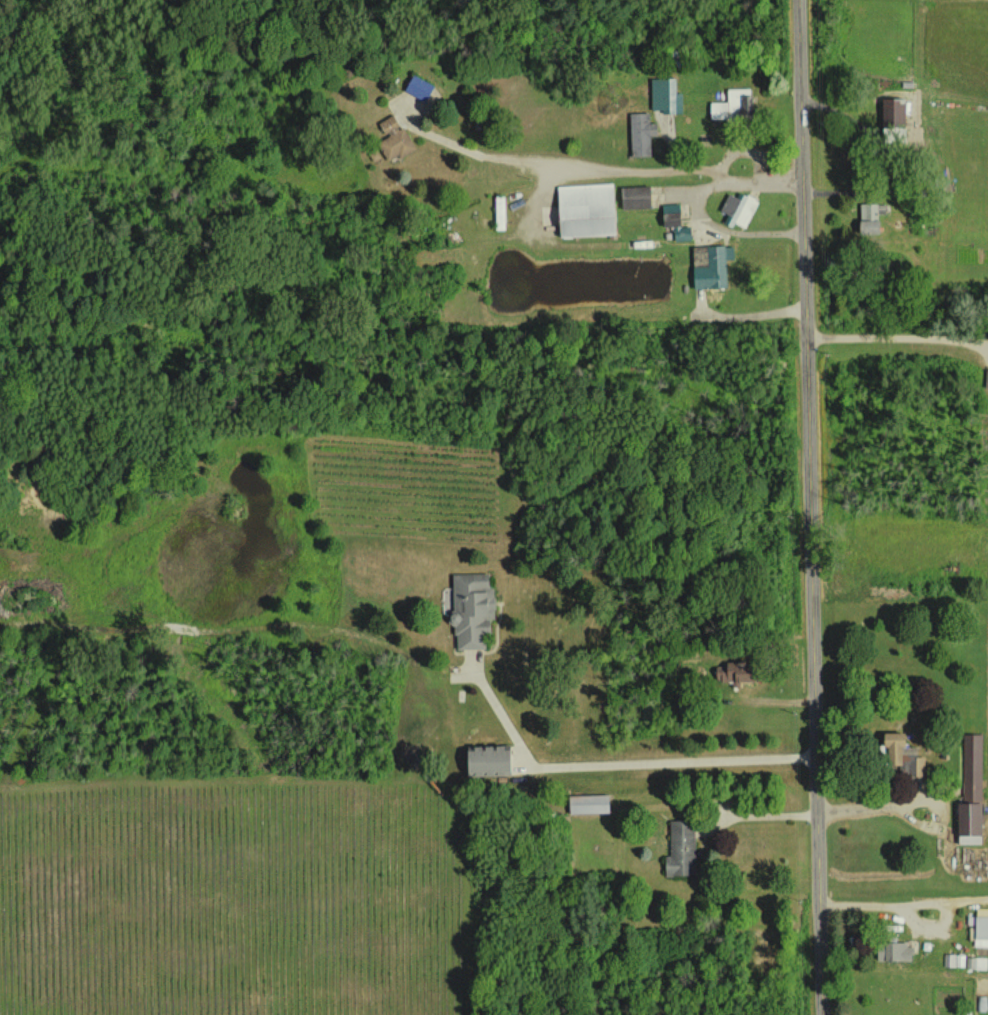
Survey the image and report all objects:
building: (419, 86)
building: (665, 95)
building: (733, 105)
building: (892, 113)
building: (640, 134)
building: (393, 139)
road: (650, 166)
road: (718, 174)
building: (634, 197)
road: (700, 205)
building: (738, 209)
building: (583, 210)
building: (867, 218)
building: (674, 222)
building: (711, 268)
road: (753, 315)
road: (899, 335)
building: (986, 378)
road: (809, 507)
building: (470, 609)
building: (733, 673)
building: (901, 754)
building: (487, 760)
road: (624, 760)
building: (970, 792)
road: (903, 799)
building: (587, 803)
road: (760, 814)
building: (680, 848)
road: (903, 904)
building: (893, 951)
building: (957, 960)
building: (977, 962)

